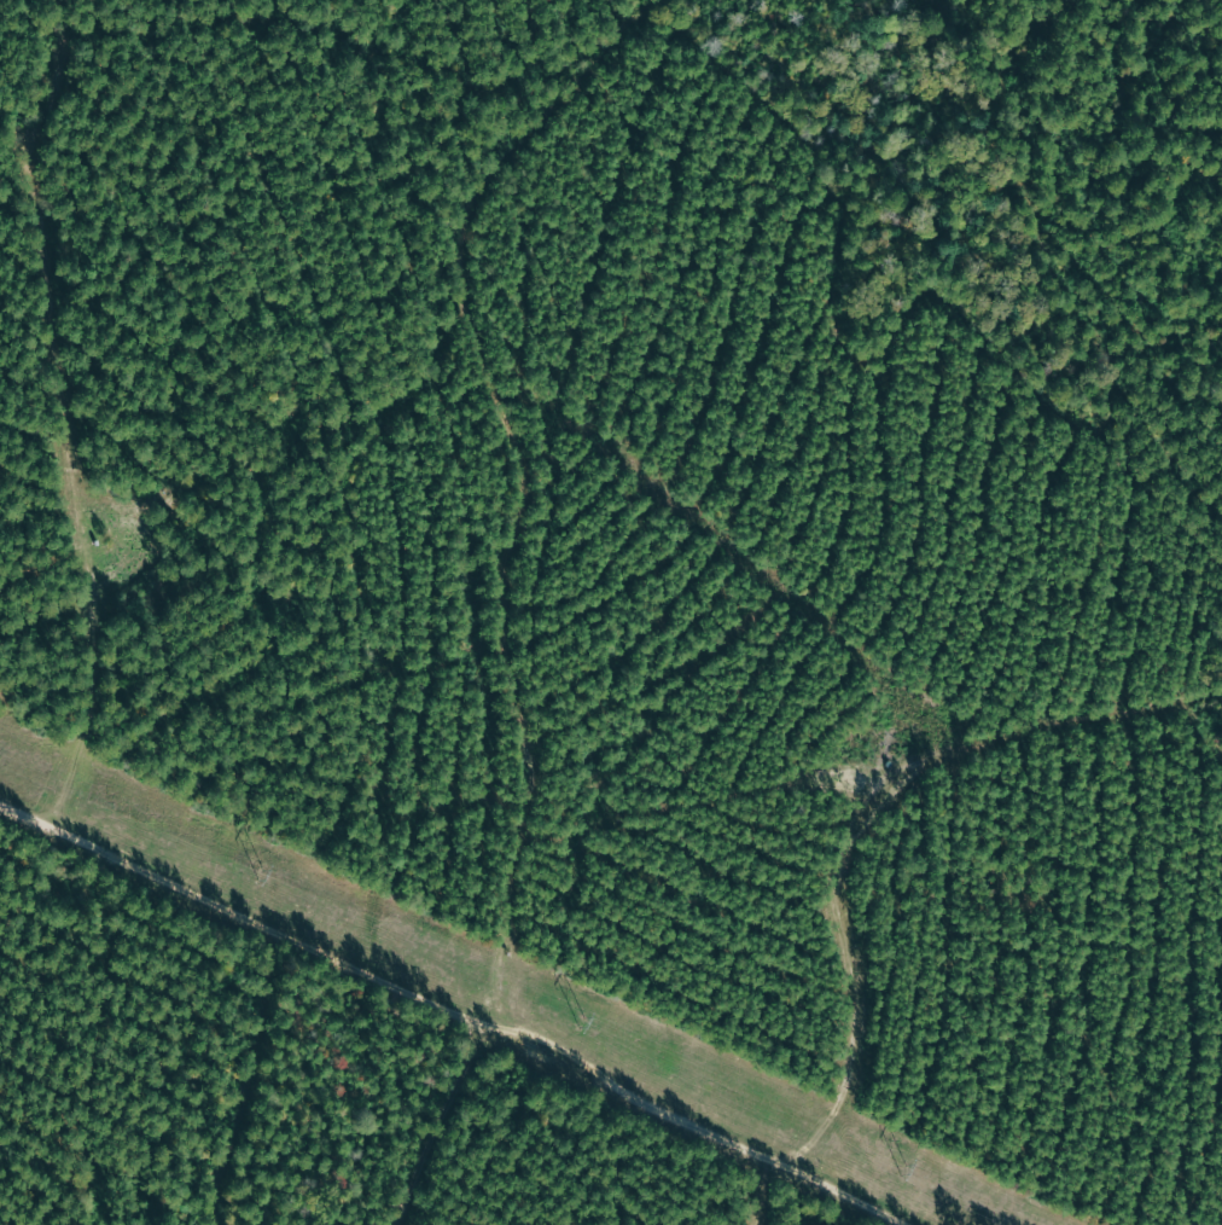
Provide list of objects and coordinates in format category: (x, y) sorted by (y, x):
power tower: (260, 873)
road: (502, 974)
power tower: (581, 1022)
power tower: (904, 1168)
road: (739, 1173)

